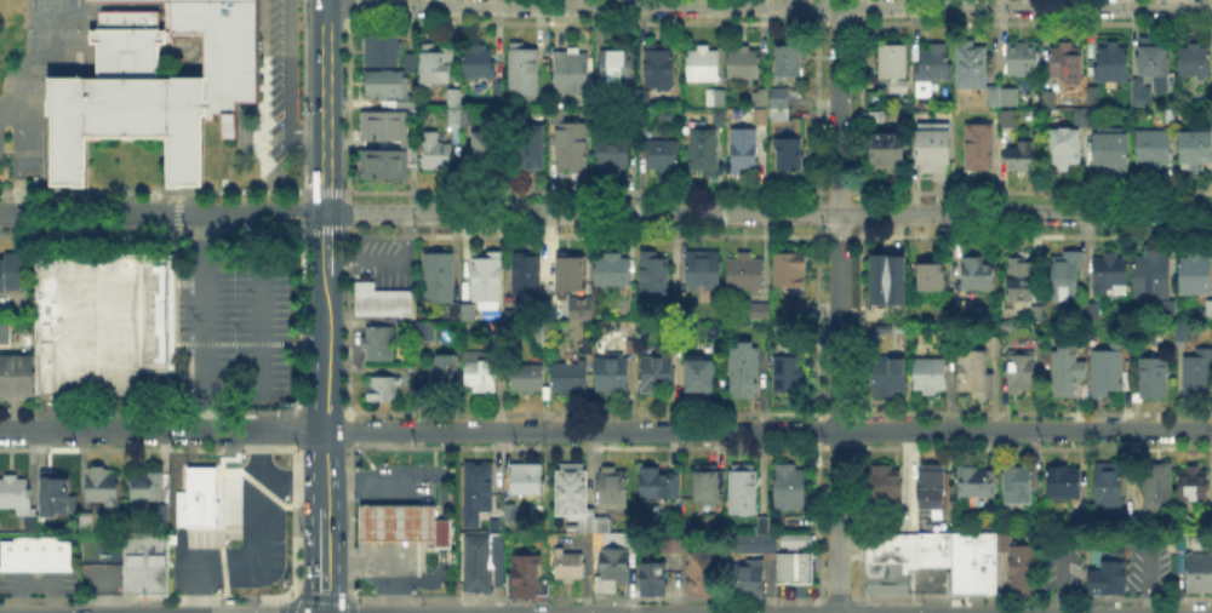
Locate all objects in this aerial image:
road: (768, 6)
park: (56, 29)
building: (382, 50)
building: (1154, 56)
building: (785, 57)
building: (475, 59)
building: (1024, 61)
building: (1109, 61)
building: (741, 62)
building: (699, 63)
building: (1195, 63)
building: (436, 64)
building: (1067, 64)
building: (613, 65)
building: (656, 68)
building: (894, 68)
building: (932, 68)
building: (973, 68)
building: (567, 69)
building: (521, 70)
parking lot: (282, 78)
building: (381, 81)
building: (155, 85)
road: (286, 85)
building: (1132, 85)
building: (496, 87)
building: (451, 94)
building: (713, 94)
building: (757, 96)
building: (777, 96)
building: (1000, 96)
building: (404, 101)
building: (1048, 101)
road: (326, 107)
building: (451, 114)
building: (467, 114)
building: (779, 114)
building: (553, 115)
building: (759, 115)
building: (876, 118)
building: (1088, 118)
building: (1172, 119)
building: (382, 121)
building: (628, 121)
building: (719, 121)
building: (1008, 121)
building: (406, 141)
building: (572, 145)
building: (481, 147)
building: (528, 147)
building: (433, 148)
building: (886, 148)
building: (1065, 148)
building: (934, 149)
building: (981, 149)
building: (1196, 149)
building: (744, 150)
building: (1154, 150)
building: (411, 153)
building: (614, 153)
building: (703, 153)
building: (1111, 153)
road: (18, 155)
building: (663, 155)
building: (790, 155)
building: (1027, 157)
building: (381, 160)
traffic signals: (326, 214)
road: (606, 214)
road: (326, 242)
road: (385, 260)
parking lot: (382, 263)
building: (787, 267)
building: (11, 268)
building: (701, 268)
building: (608, 269)
building: (566, 271)
building: (650, 271)
building: (741, 271)
building: (1111, 273)
building: (1196, 273)
building: (485, 274)
building: (522, 274)
building: (979, 274)
building: (1154, 275)
building: (440, 277)
building: (887, 279)
building: (932, 279)
building: (1067, 280)
building: (1022, 281)
building: (378, 302)
road: (327, 304)
building: (795, 308)
road: (839, 309)
building: (970, 309)
building: (1166, 310)
building: (941, 311)
building: (1093, 311)
building: (1210, 311)
building: (457, 313)
building: (760, 313)
building: (1040, 316)
road: (264, 319)
road: (204, 322)
building: (101, 325)
parking lot: (236, 327)
building: (884, 327)
building: (1183, 331)
building: (6, 332)
building: (428, 332)
building: (375, 339)
building: (499, 344)
building: (583, 344)
building: (630, 348)
building: (995, 348)
road: (327, 368)
building: (608, 371)
building: (747, 371)
building: (783, 371)
building: (1023, 371)
building: (1067, 371)
building: (446, 372)
building: (1108, 373)
building: (522, 374)
building: (659, 374)
building: (697, 374)
building: (1199, 374)
building: (482, 376)
building: (931, 376)
building: (16, 377)
building: (566, 377)
building: (891, 377)
building: (976, 377)
building: (1155, 379)
building: (379, 385)
road: (605, 429)
road: (326, 451)
road: (339, 454)
road: (291, 480)
building: (527, 481)
building: (659, 482)
building: (978, 483)
building: (884, 485)
building: (1064, 485)
building: (103, 486)
building: (708, 486)
building: (933, 486)
building: (1194, 486)
building: (149, 487)
building: (790, 487)
building: (1159, 487)
building: (744, 488)
building: (1018, 488)
building: (1110, 488)
building: (614, 489)
building: (474, 492)
building: (16, 494)
building: (61, 498)
building: (199, 499)
building: (578, 499)
building: (507, 510)
building: (156, 511)
road: (394, 511)
building: (513, 515)
building: (395, 521)
gas station: (395, 521)
building: (760, 521)
building: (1206, 521)
building: (88, 523)
building: (1079, 523)
building: (1137, 525)
road: (325, 529)
building: (441, 532)
parking lot: (239, 533)
building: (794, 539)
building: (669, 542)
building: (1201, 543)
road: (257, 552)
building: (34, 556)
building: (899, 556)
road: (359, 558)
building: (494, 561)
building: (972, 561)
building: (474, 563)
building: (566, 563)
building: (147, 565)
building: (610, 566)
building: (791, 566)
building: (1018, 567)
building: (699, 572)
parking lot: (1147, 573)
building: (525, 574)
building: (1197, 574)
building: (650, 577)
building: (744, 577)
parking lot: (102, 579)
building: (1104, 579)
parking lot: (38, 585)
road: (325, 585)

